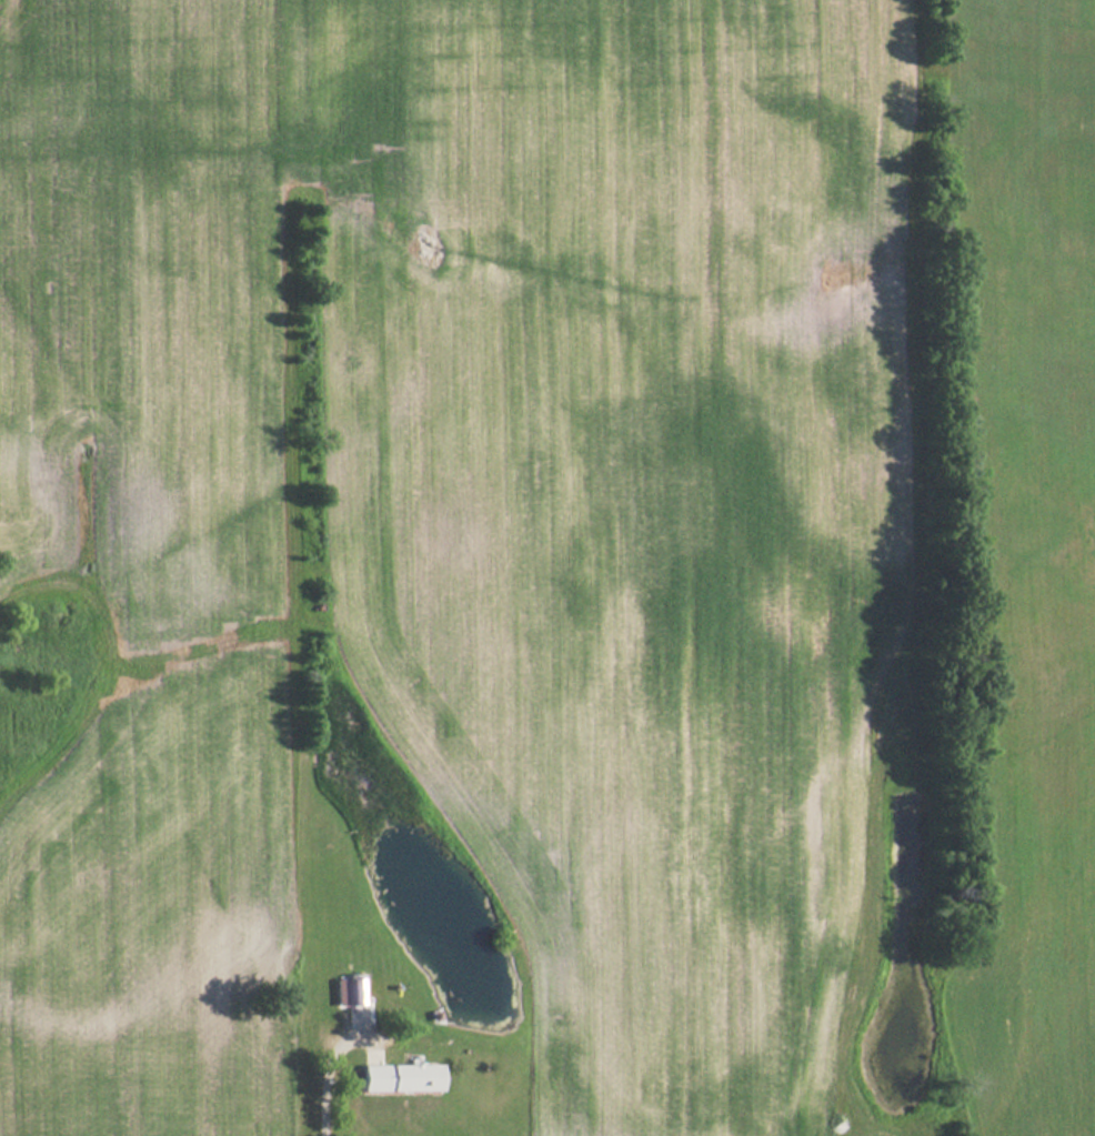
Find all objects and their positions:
building: (350, 992)
building: (402, 1077)

